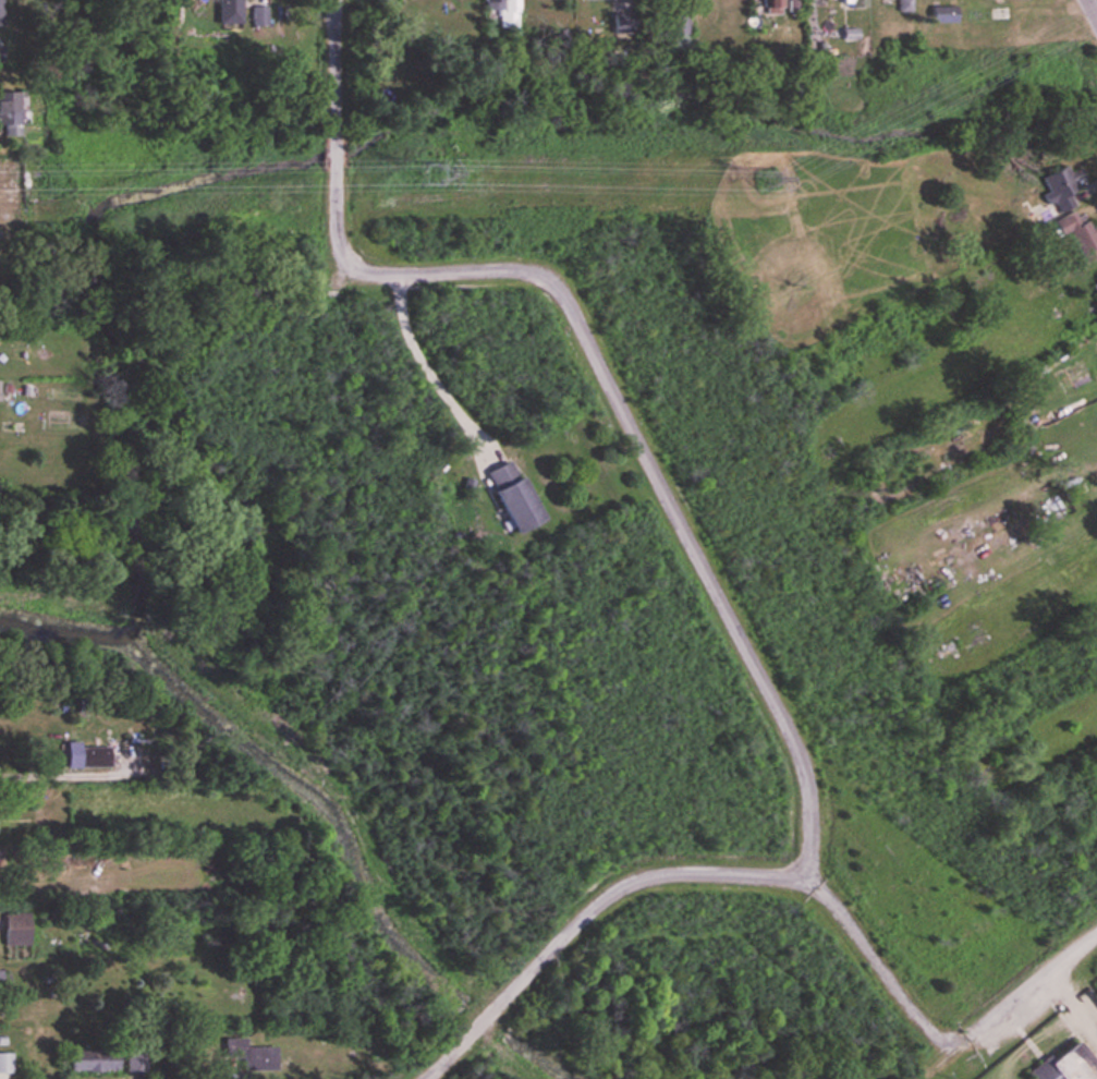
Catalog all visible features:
building: (850, 2)
building: (489, 3)
building: (902, 4)
building: (769, 7)
road: (1093, 8)
building: (227, 10)
building: (941, 13)
building: (11, 111)
power tower: (429, 177)
power tower: (764, 177)
building: (1058, 189)
building: (1077, 232)
building: (1095, 289)
road: (597, 361)
building: (508, 496)
building: (82, 755)
road: (71, 775)
road: (782, 877)
building: (12, 930)
building: (0, 981)
building: (246, 1055)
building: (88, 1060)
building: (4, 1064)
road: (939, 1065)
building: (1059, 1066)
road: (431, 1076)

